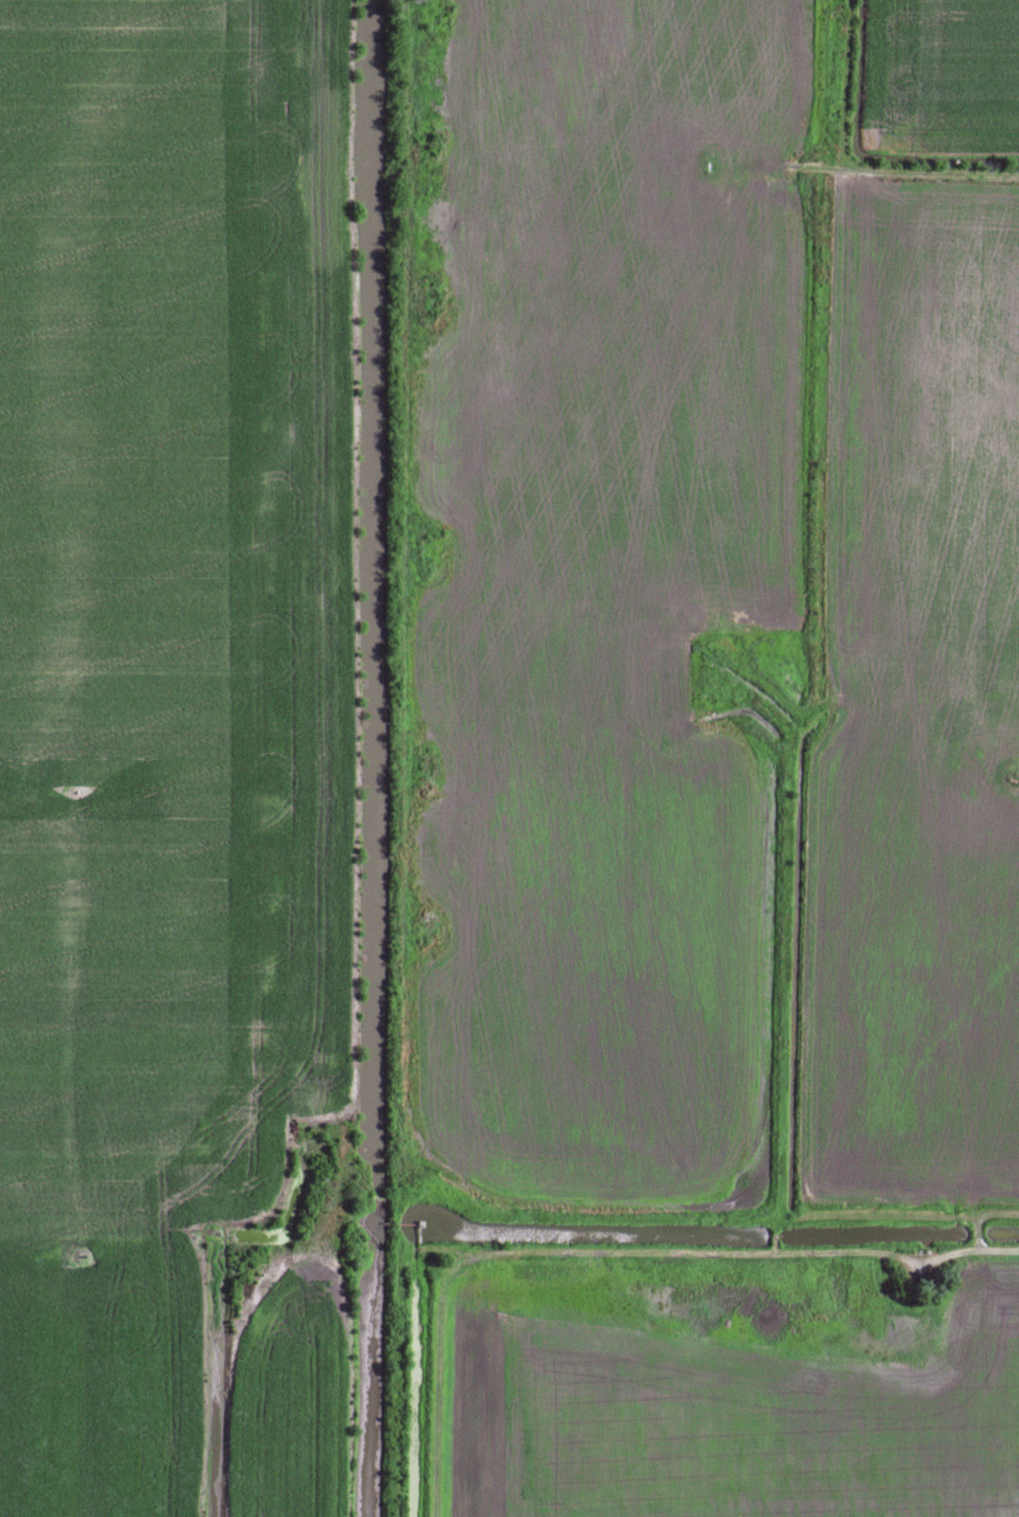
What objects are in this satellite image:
road: (969, 1250)

